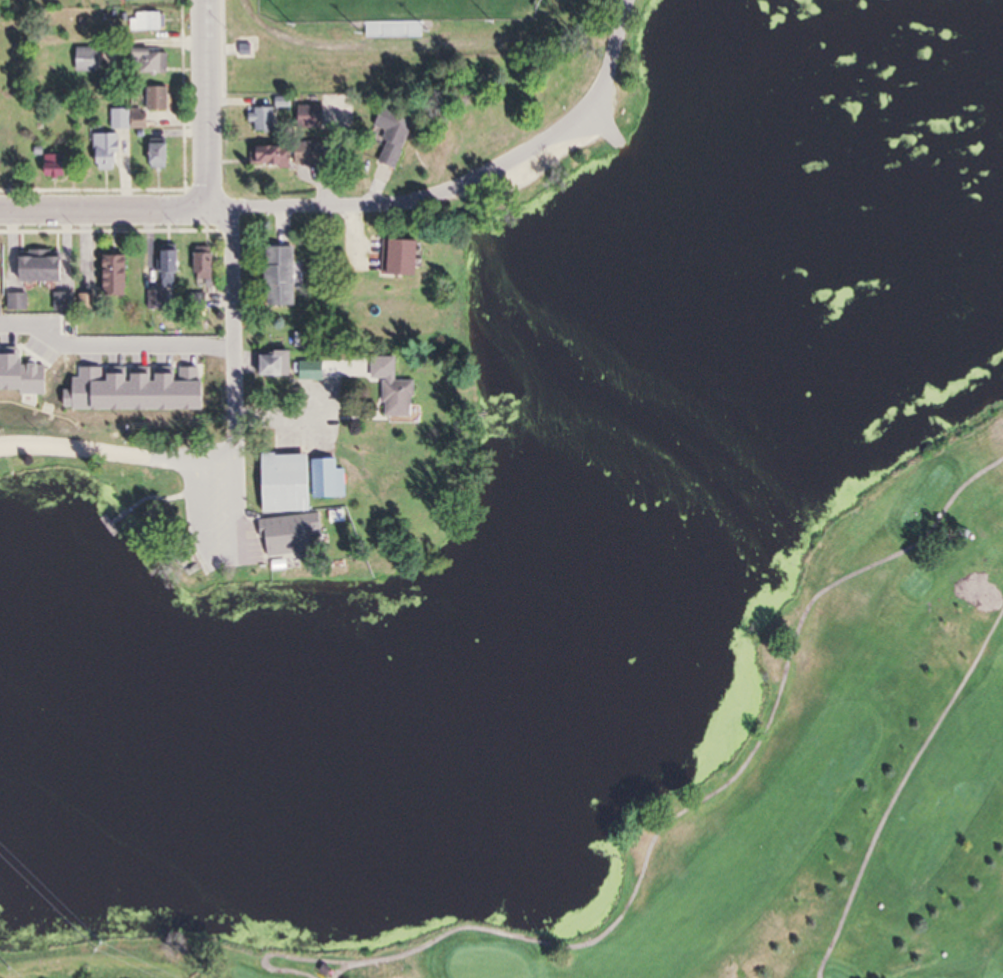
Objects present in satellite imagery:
building: (149, 22)
park: (412, 45)
building: (91, 59)
building: (152, 62)
building: (161, 99)
road: (207, 106)
building: (305, 117)
building: (132, 119)
building: (262, 120)
building: (388, 135)
road: (549, 139)
building: (110, 152)
building: (163, 155)
building: (278, 155)
building: (4, 156)
building: (57, 166)
road: (301, 208)
road: (104, 212)
building: (394, 258)
building: (199, 266)
building: (34, 267)
building: (166, 269)
building: (108, 276)
building: (276, 276)
building: (15, 303)
building: (62, 304)
building: (85, 304)
road: (108, 343)
road: (234, 348)
building: (269, 364)
building: (307, 371)
building: (182, 388)
building: (394, 398)
road: (274, 414)
road: (118, 451)
building: (325, 479)
building: (281, 484)
park: (158, 502)
building: (289, 529)
river: (567, 665)
park: (811, 784)
road: (899, 789)
road: (662, 830)
park: (111, 959)

